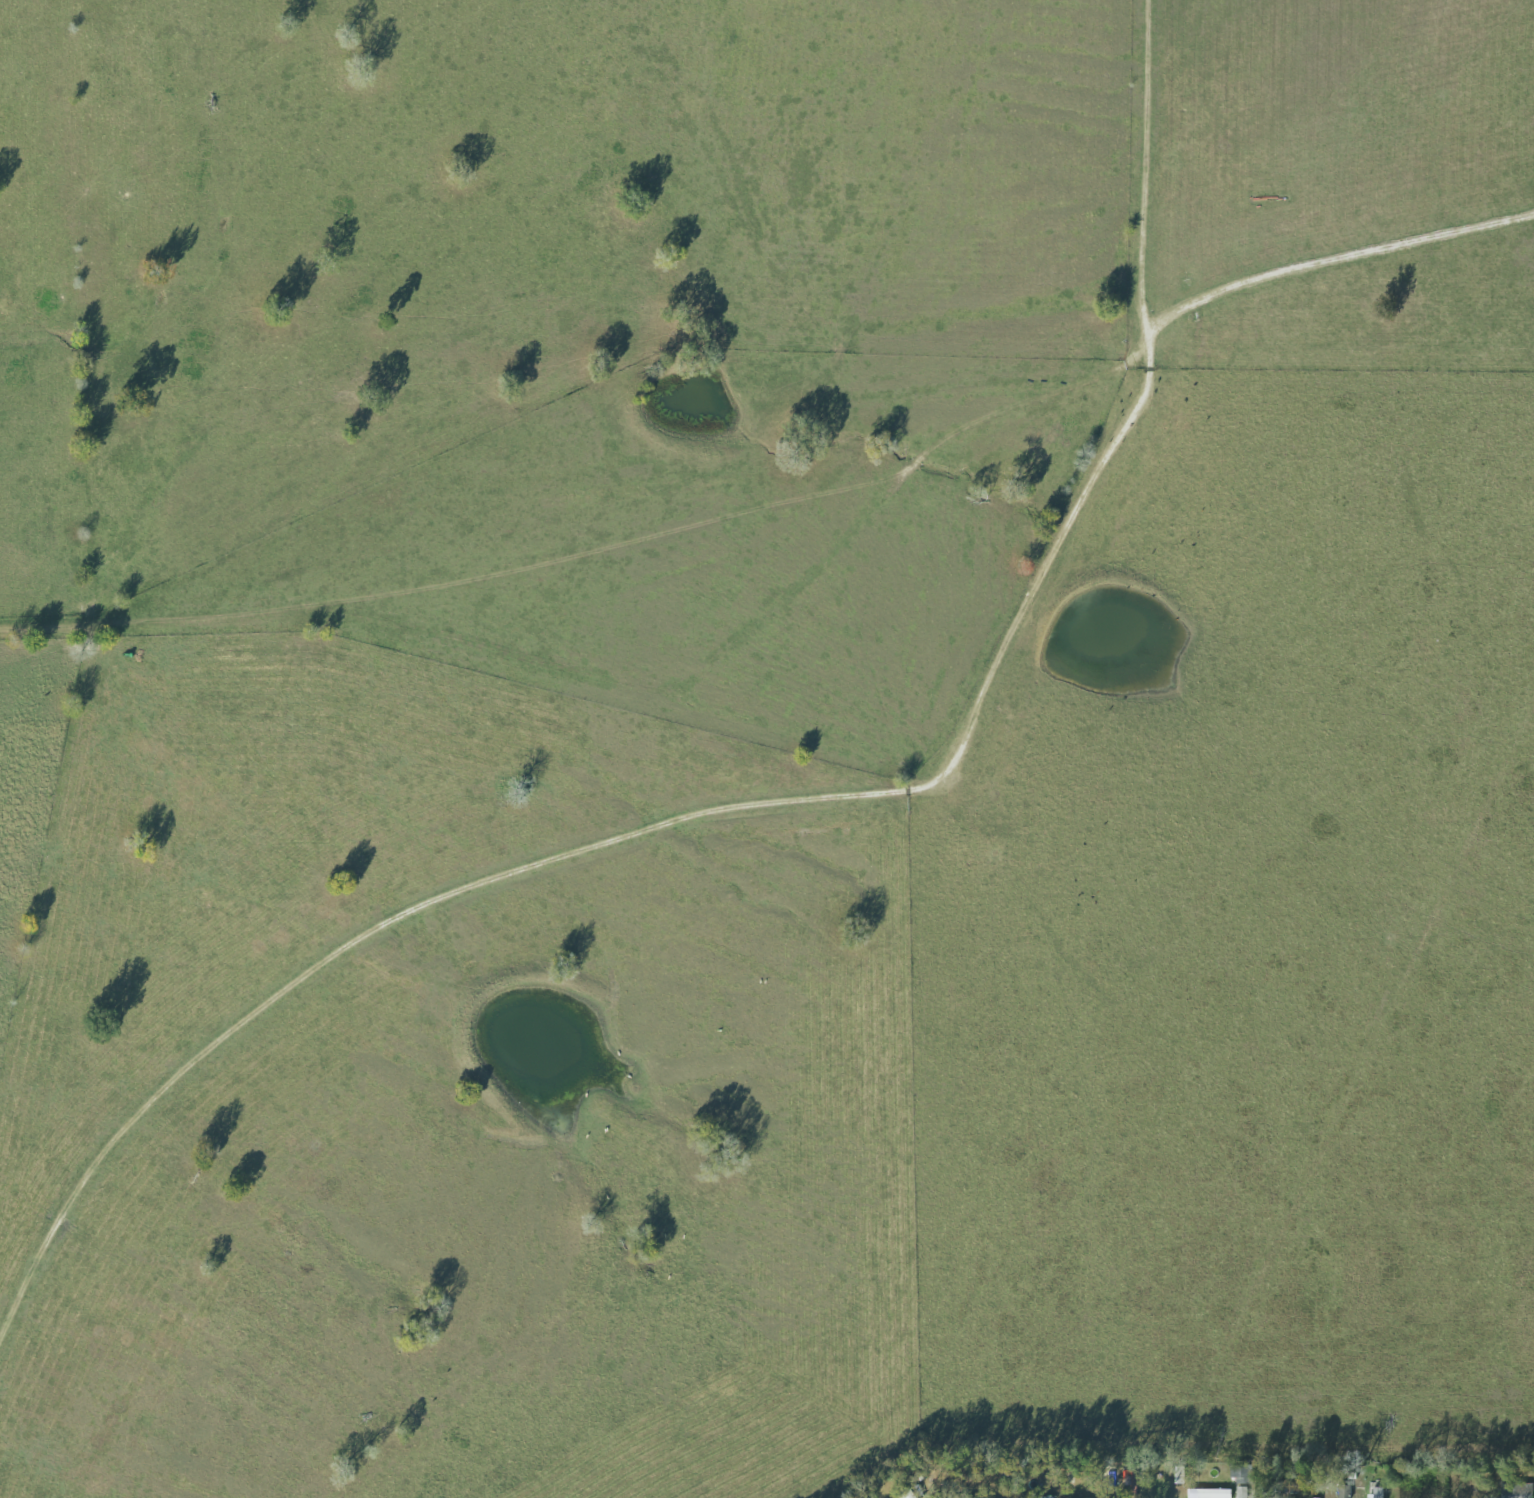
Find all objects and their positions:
building: (1381, 1492)
building: (1215, 1493)

